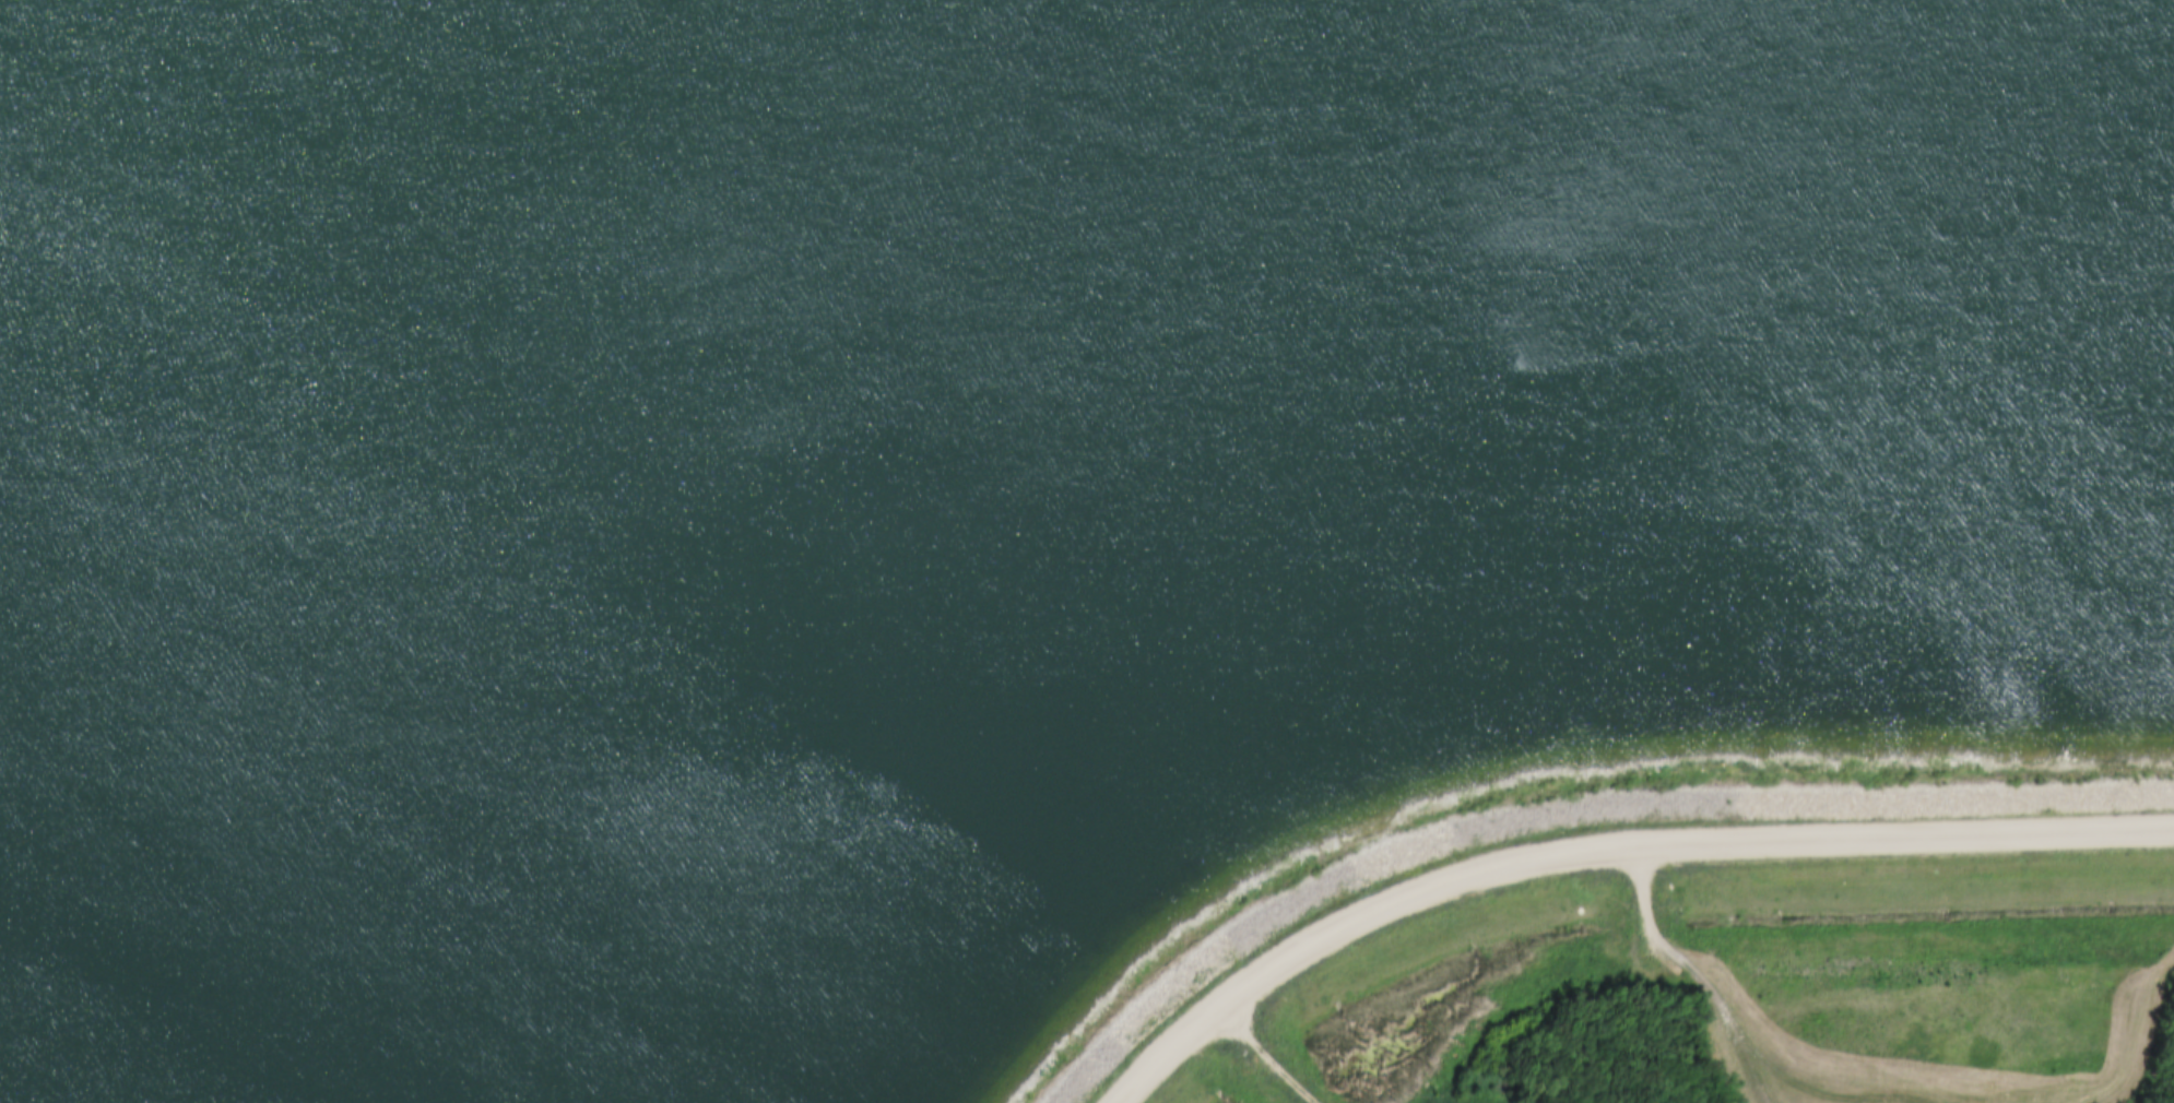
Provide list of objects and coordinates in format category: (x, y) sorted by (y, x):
road: (1587, 821)
road: (1255, 1051)

